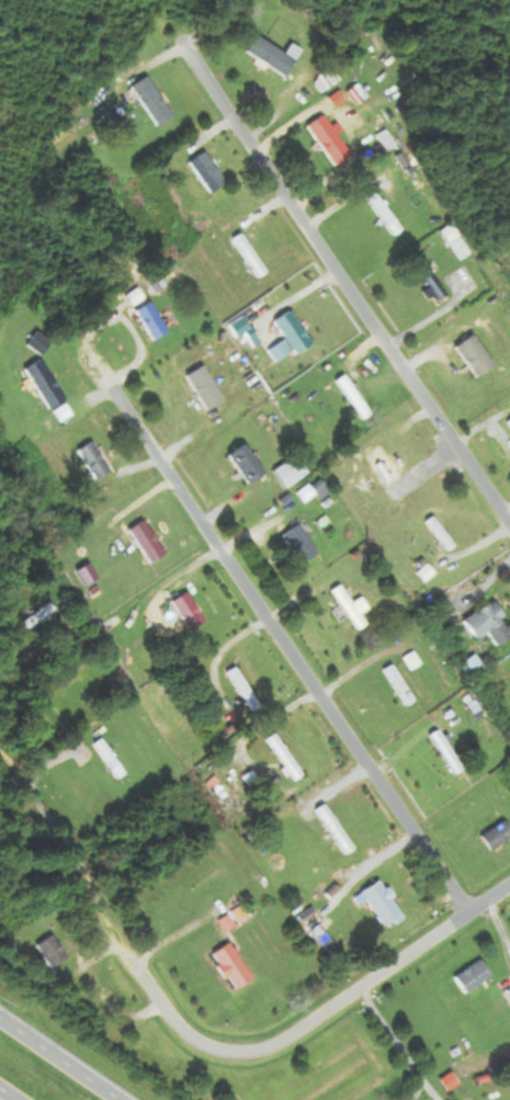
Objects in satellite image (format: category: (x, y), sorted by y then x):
building: (274, 56)
building: (327, 81)
building: (152, 101)
building: (329, 140)
building: (208, 172)
building: (456, 242)
building: (252, 258)
building: (432, 282)
road: (347, 283)
building: (151, 320)
building: (294, 333)
building: (45, 384)
building: (202, 386)
building: (360, 399)
building: (94, 460)
building: (248, 464)
building: (293, 472)
building: (388, 474)
building: (441, 533)
building: (147, 542)
building: (301, 544)
building: (352, 606)
building: (189, 611)
building: (38, 615)
building: (489, 623)
road: (5, 645)
road: (286, 646)
building: (473, 667)
building: (399, 685)
building: (243, 689)
building: (105, 757)
building: (497, 836)
building: (382, 904)
building: (53, 953)
building: (233, 966)
building: (474, 977)
road: (205, 1040)
road: (396, 1043)
road: (59, 1059)
road: (7, 1095)

